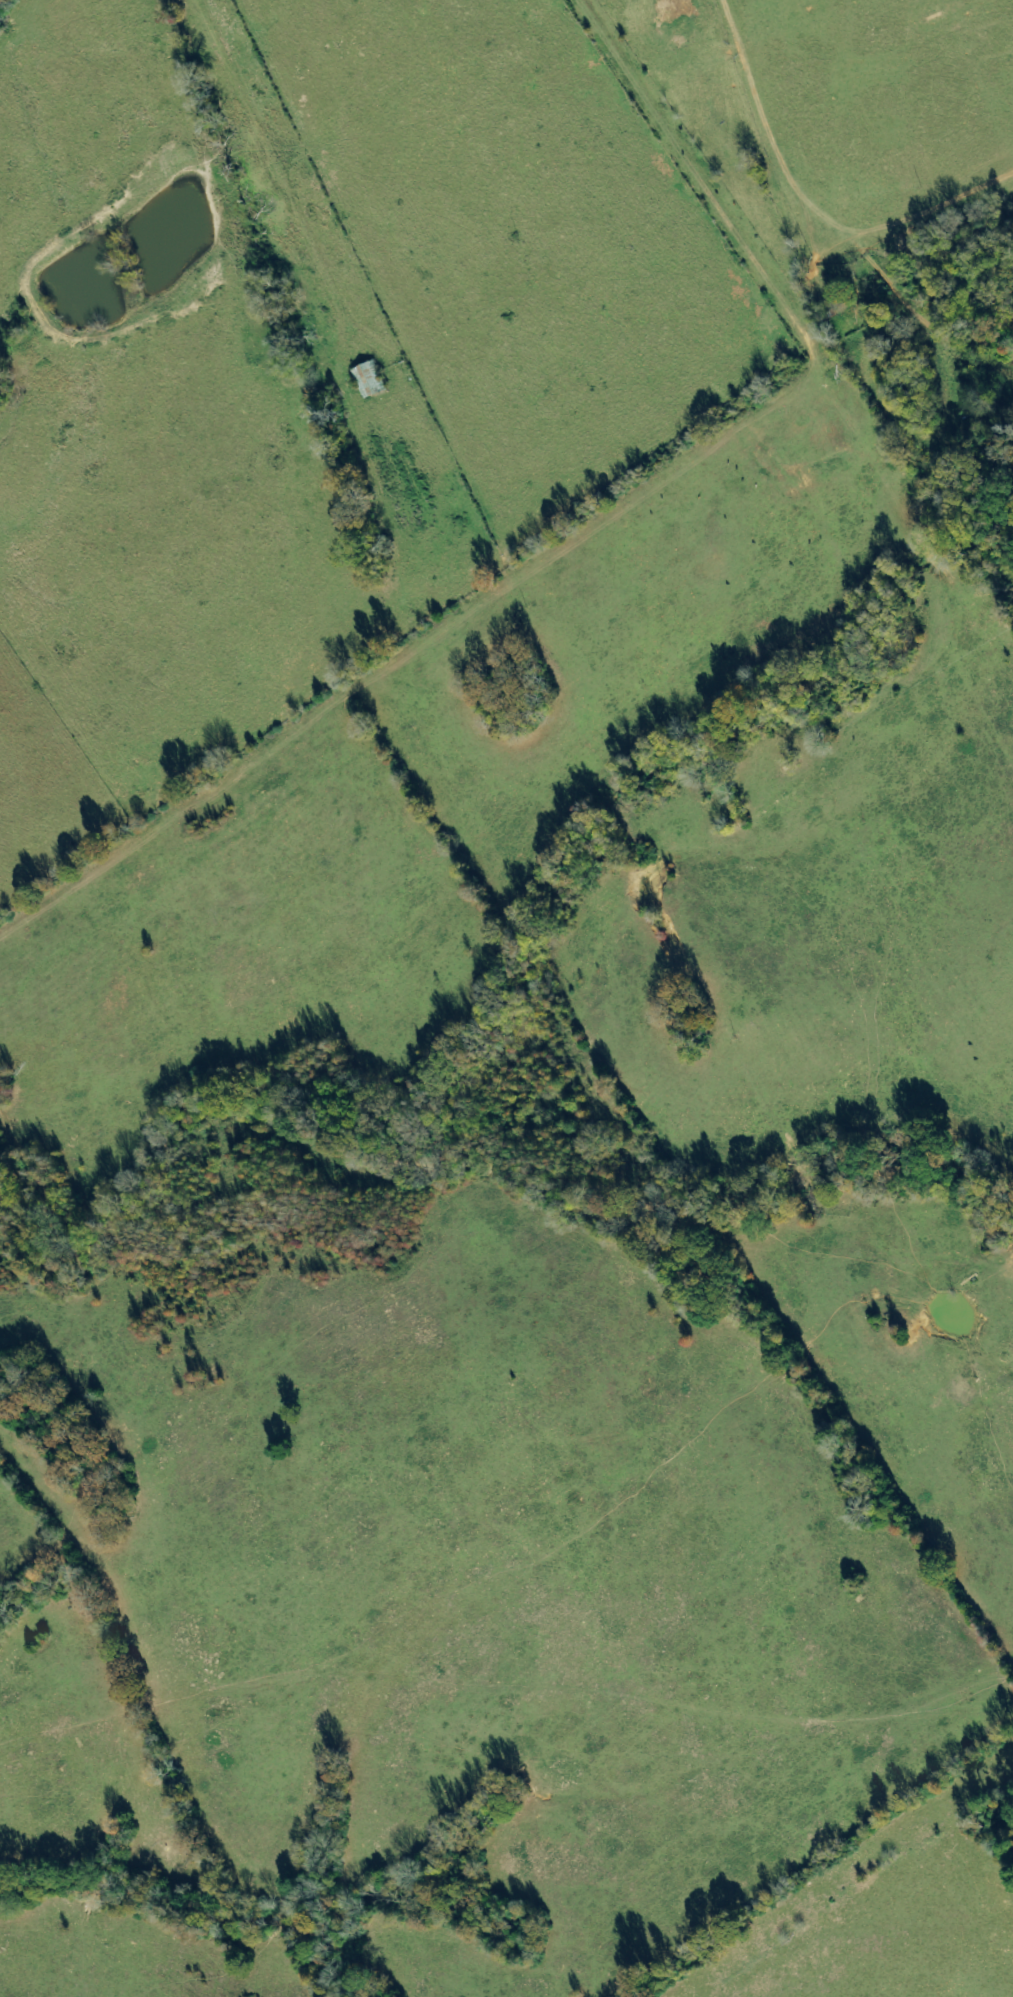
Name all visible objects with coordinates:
road: (913, 329)
building: (371, 379)
road: (973, 421)

